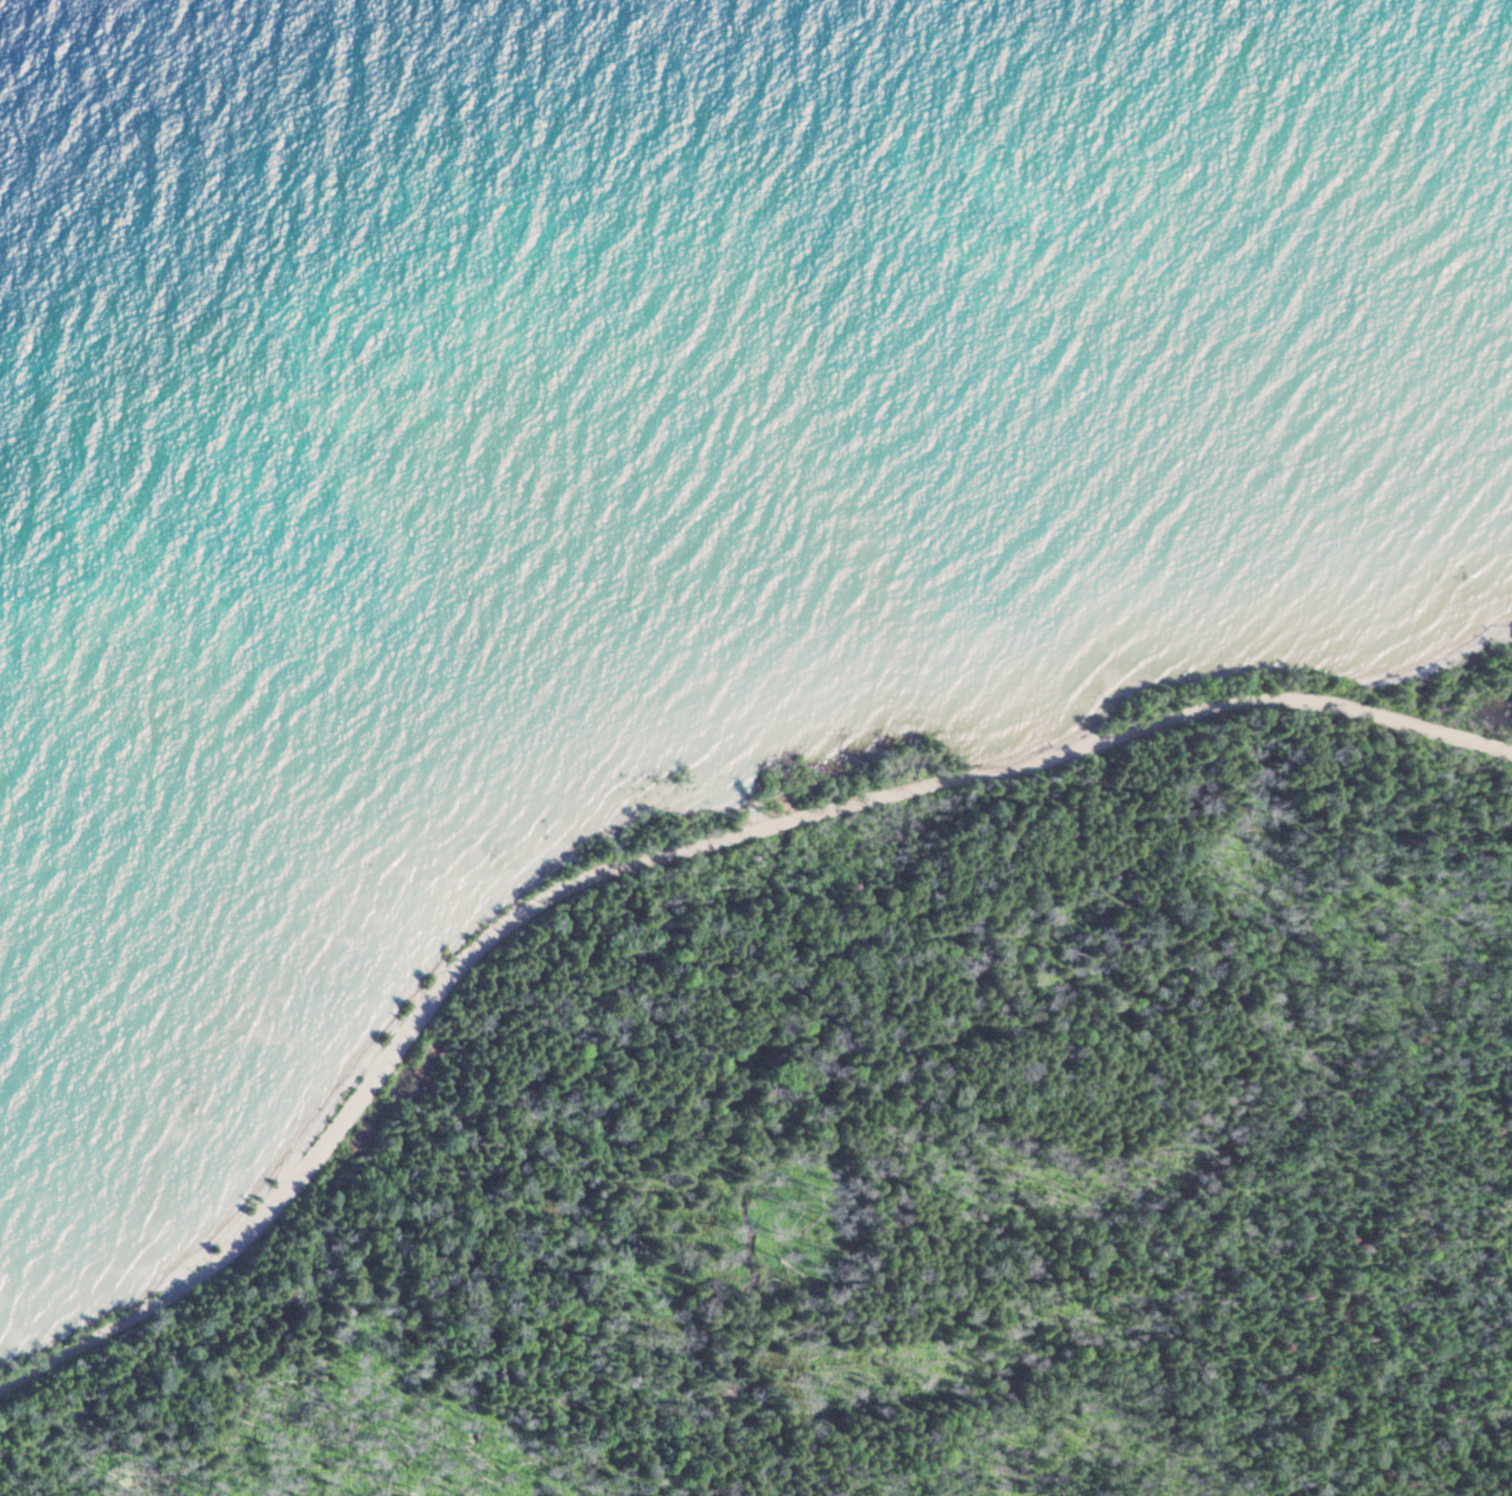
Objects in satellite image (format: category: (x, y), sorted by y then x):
road: (664, 853)
park: (847, 1059)

